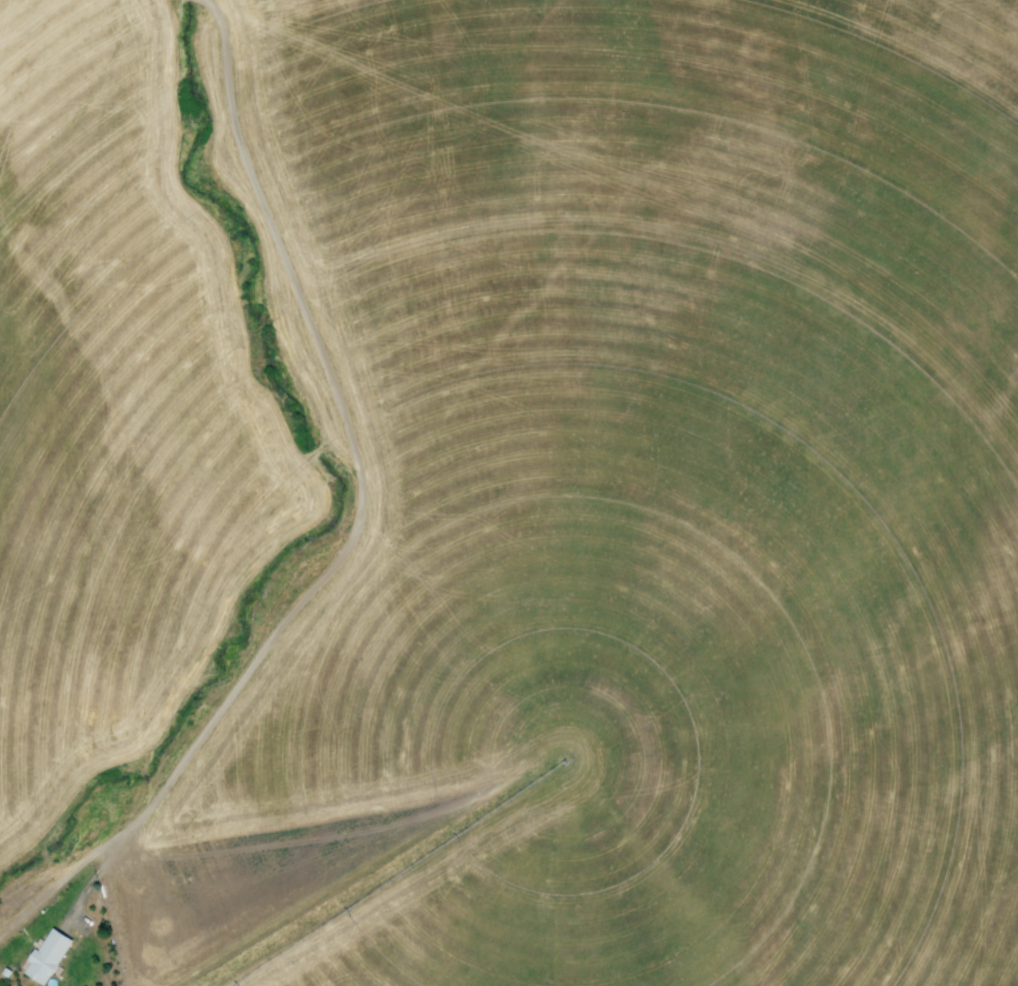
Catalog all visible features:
road: (358, 507)
building: (44, 956)

